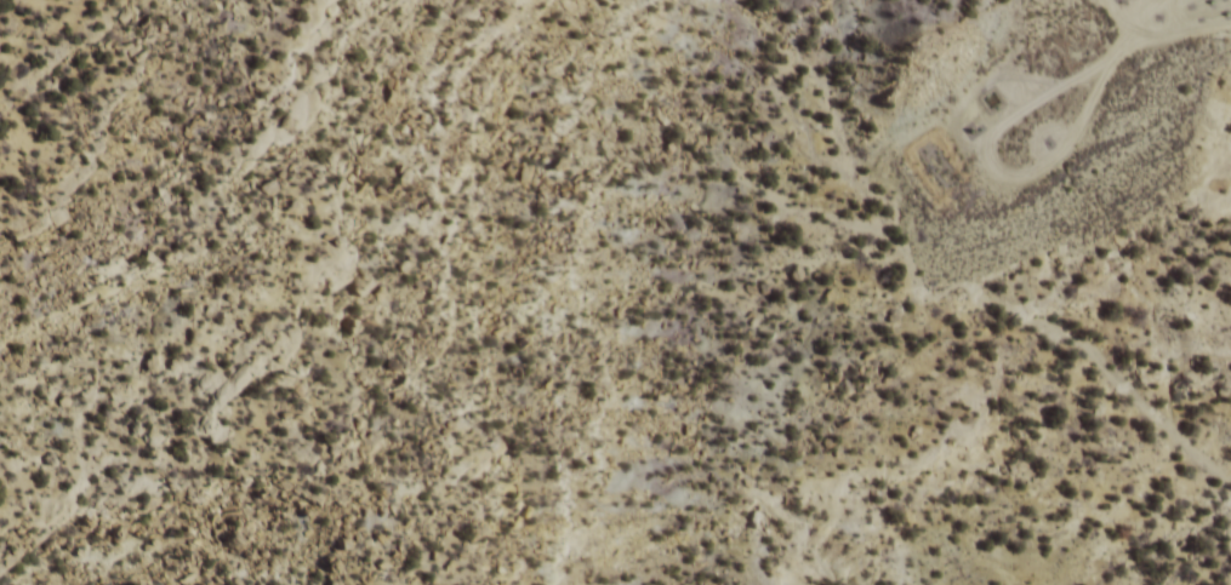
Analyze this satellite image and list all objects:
road: (1134, 8)
road: (1174, 23)
road: (1129, 30)
road: (1004, 171)

